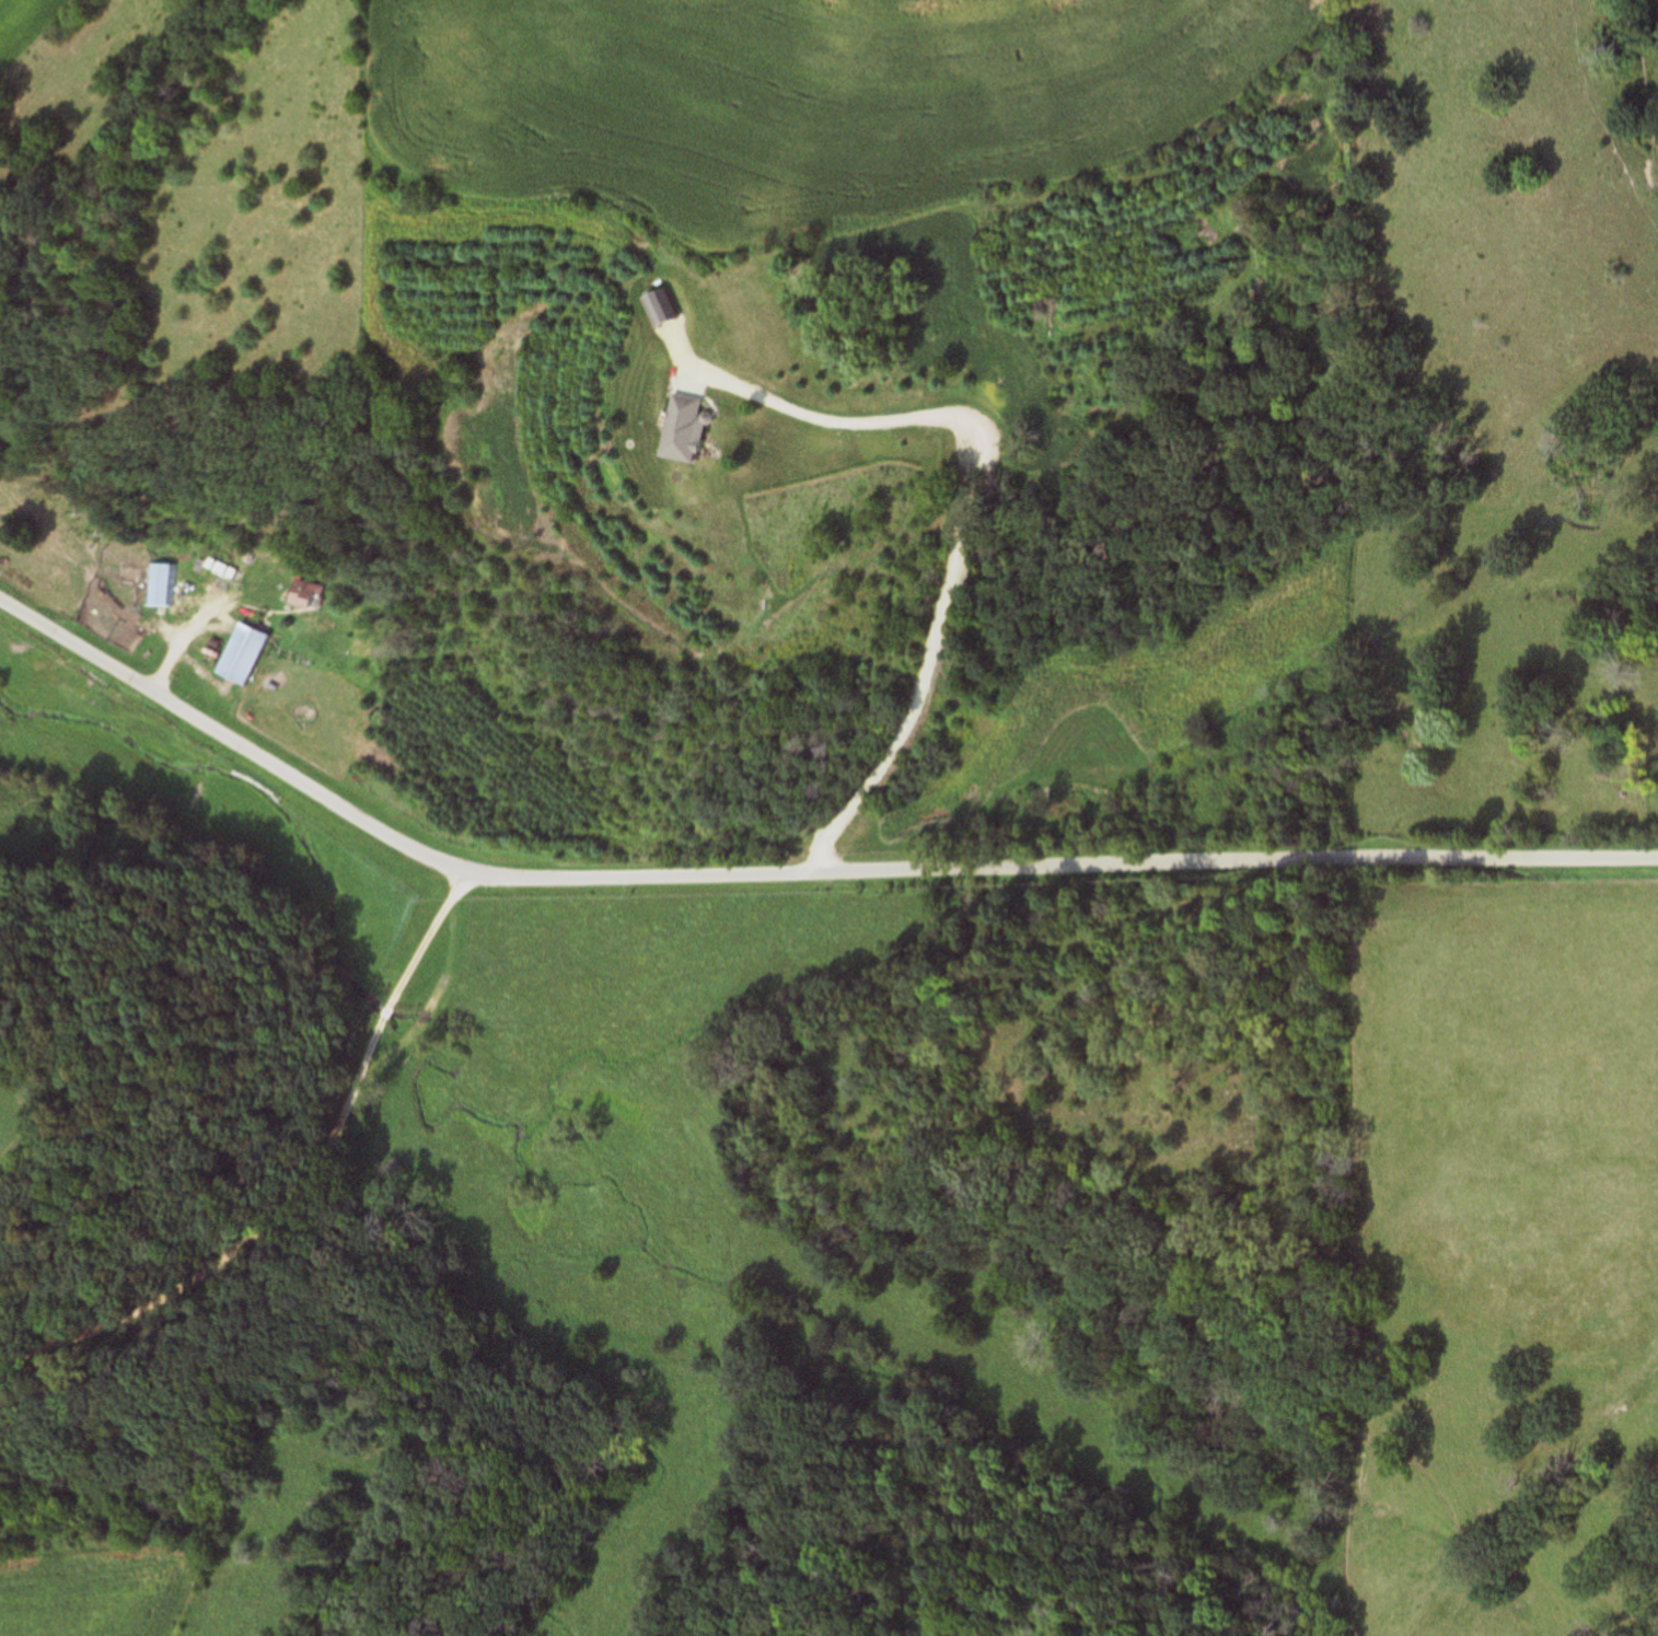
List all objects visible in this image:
building: (680, 430)
road: (963, 522)
road: (184, 645)
building: (239, 657)
road: (790, 872)
road: (300, 1188)

